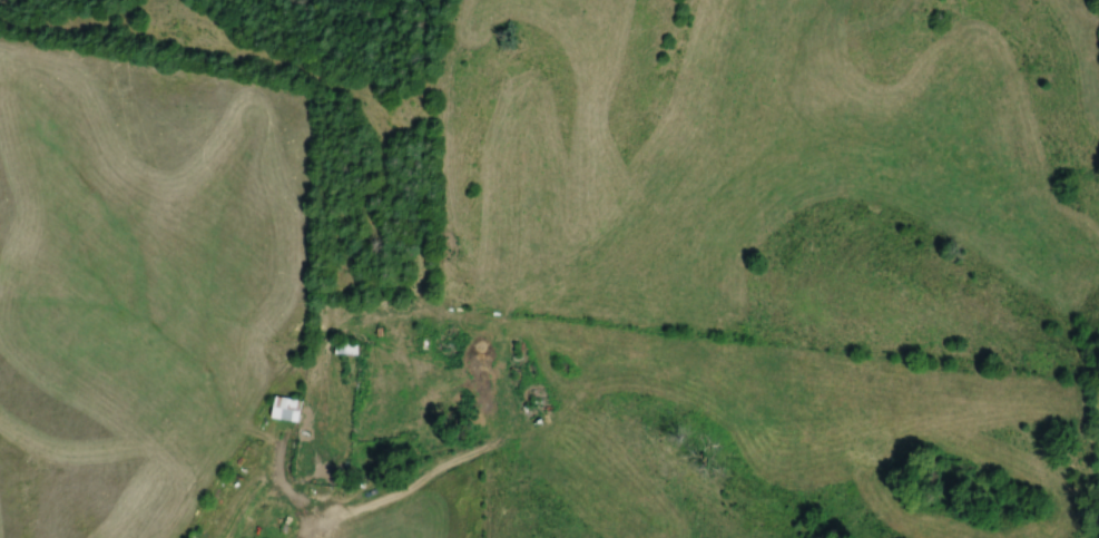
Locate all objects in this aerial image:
building: (342, 346)
building: (290, 408)
road: (321, 469)

